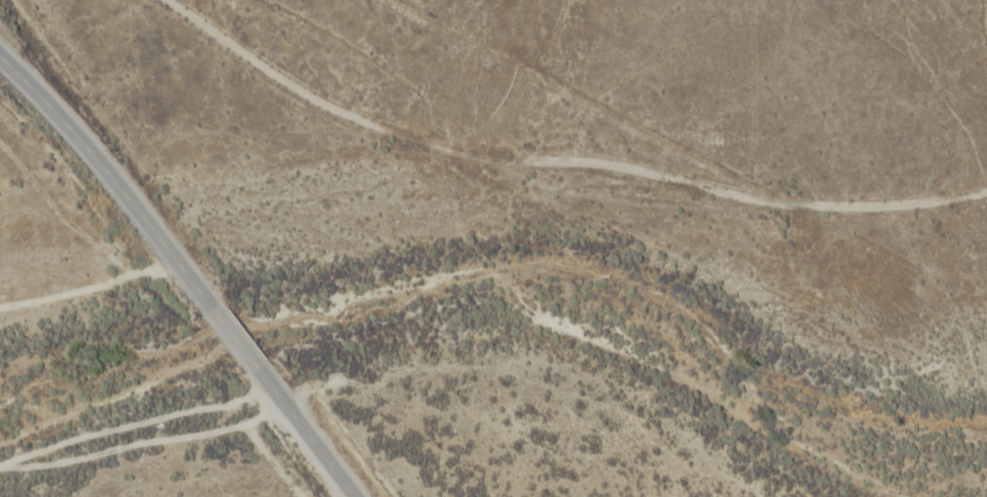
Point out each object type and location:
road: (557, 160)
road: (111, 181)
road: (234, 337)
road: (306, 429)

